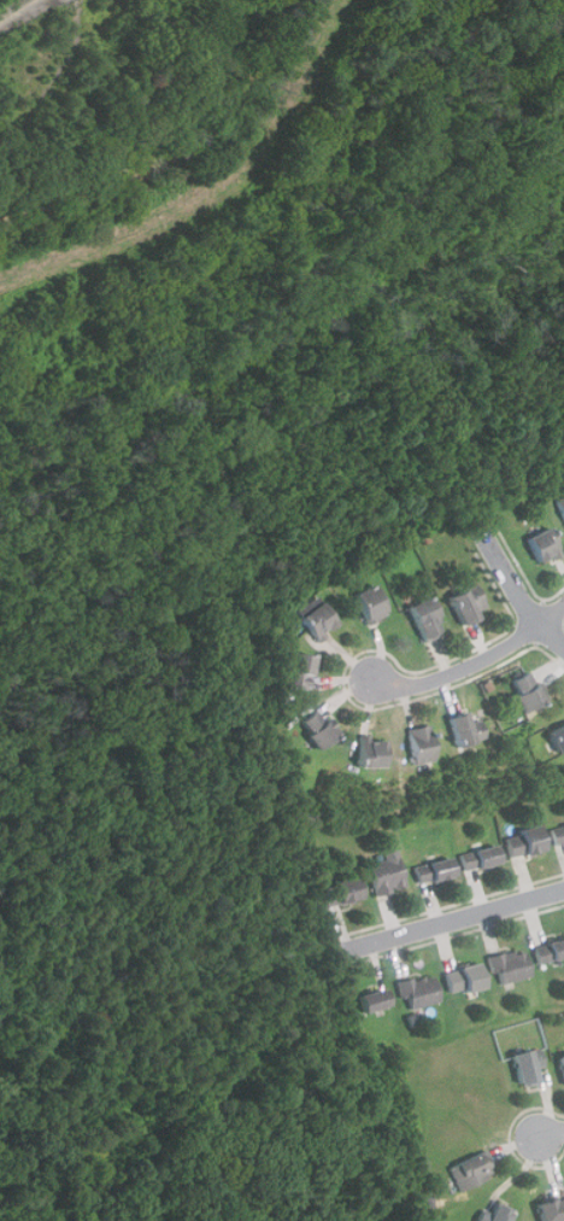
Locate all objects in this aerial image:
park: (100, 86)
building: (562, 503)
building: (545, 545)
road: (516, 580)
building: (371, 603)
building: (469, 603)
building: (428, 619)
building: (319, 620)
road: (474, 665)
building: (300, 671)
building: (529, 690)
building: (319, 728)
building: (468, 729)
building: (559, 737)
building: (424, 744)
building: (375, 752)
building: (558, 835)
building: (525, 842)
building: (481, 857)
building: (435, 870)
building: (388, 874)
building: (342, 892)
road: (451, 923)
building: (550, 951)
building: (511, 966)
building: (465, 978)
building: (421, 992)
building: (376, 1000)
building: (563, 1062)
building: (528, 1065)
road: (557, 1132)
building: (472, 1172)
building: (552, 1210)
building: (495, 1215)

